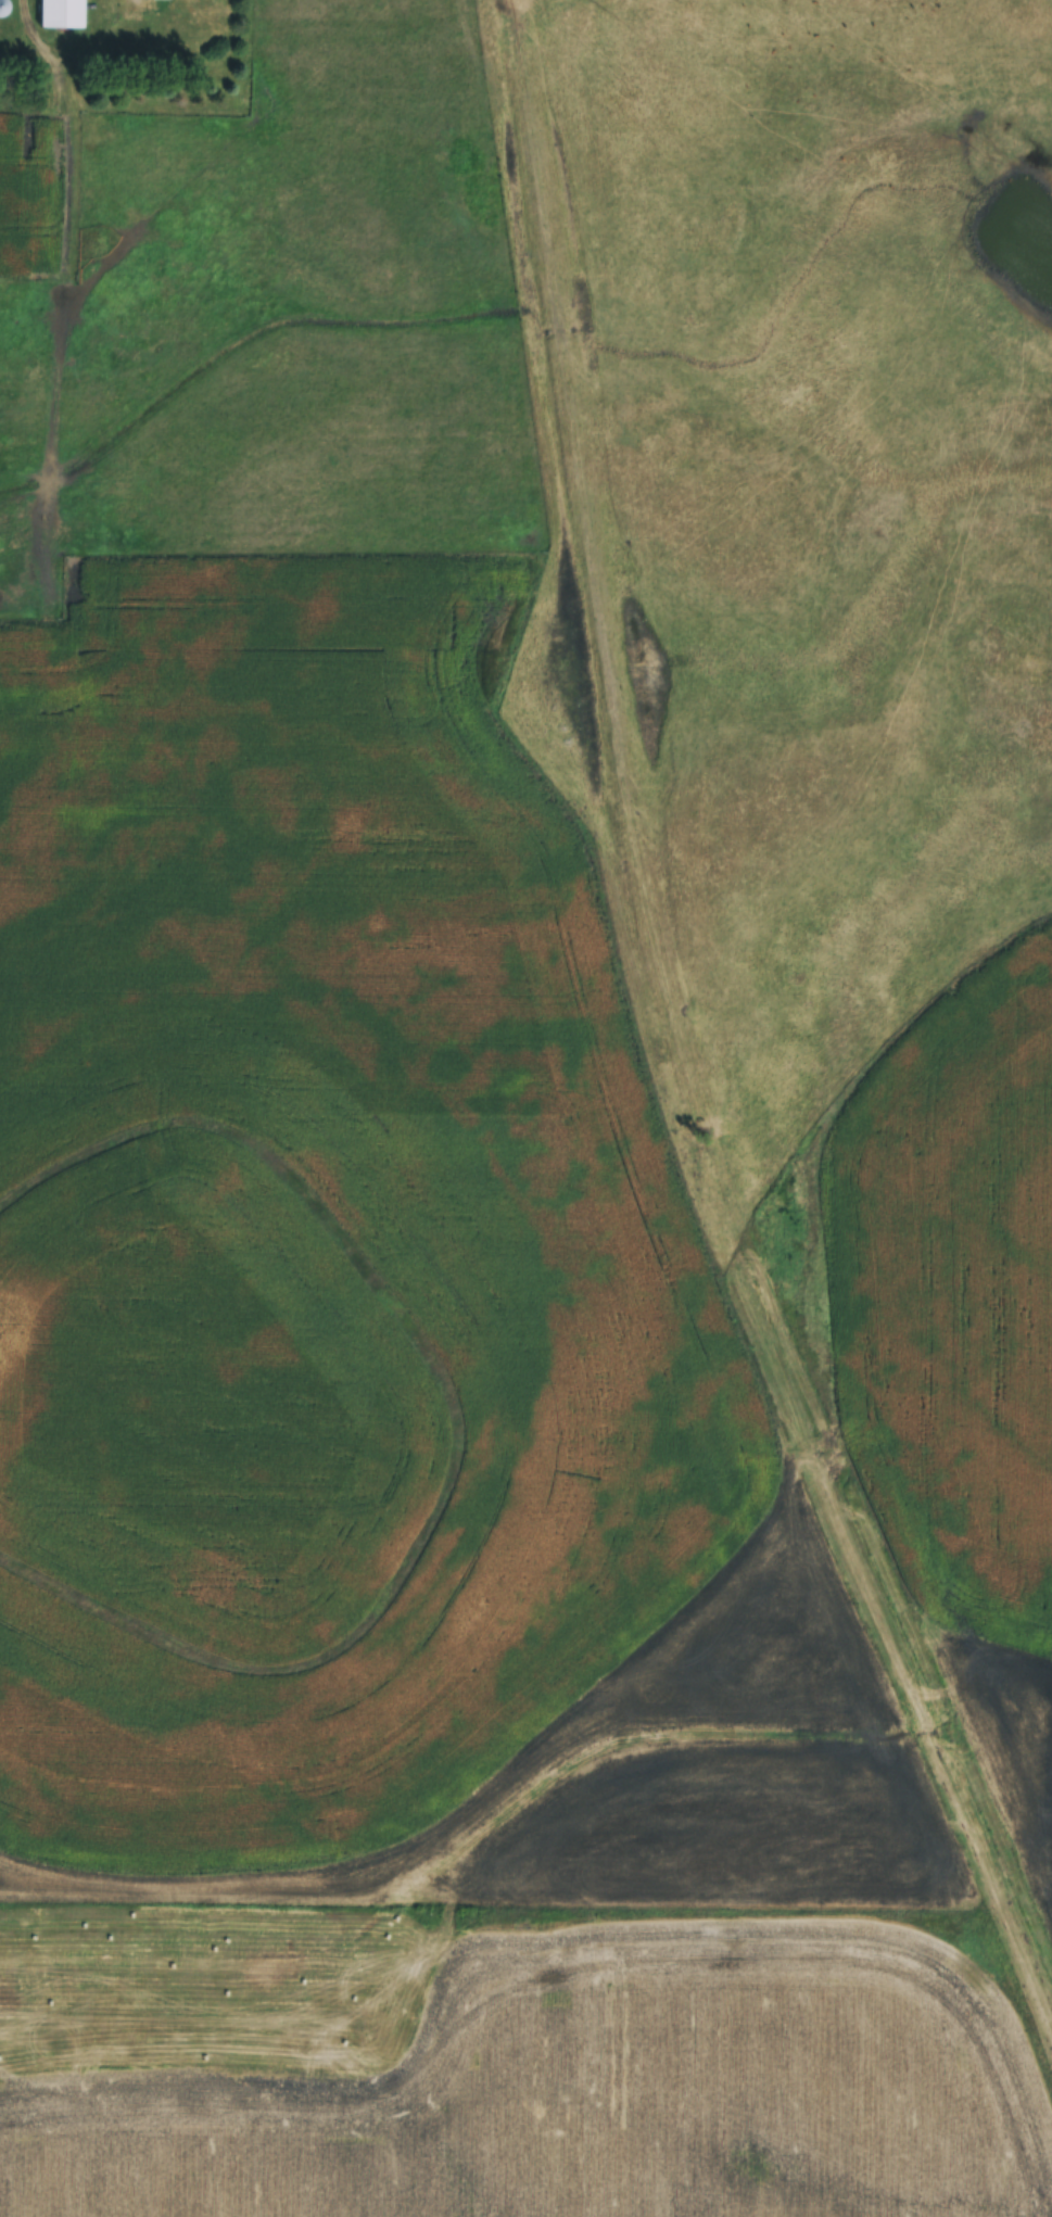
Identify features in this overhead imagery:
building: (1, 8)
building: (59, 14)

